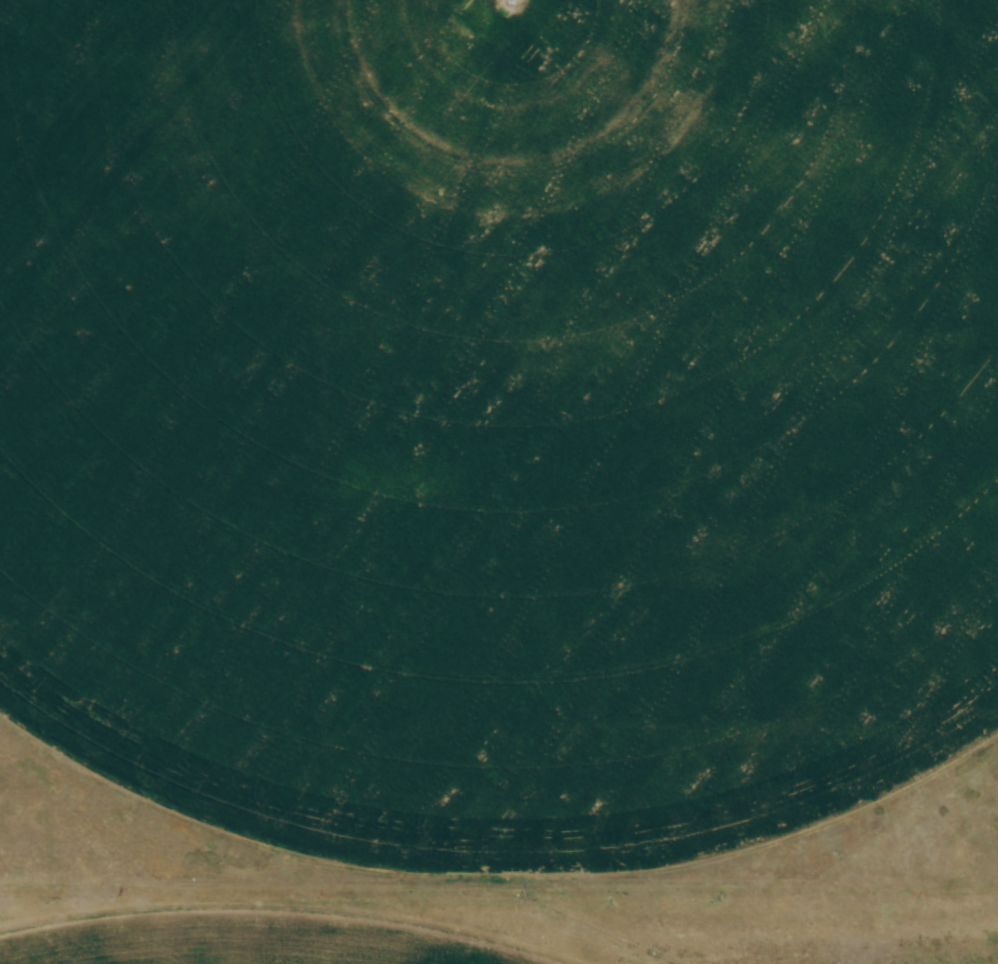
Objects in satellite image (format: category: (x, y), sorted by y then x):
crop: (500, 406)
crop: (240, 947)

